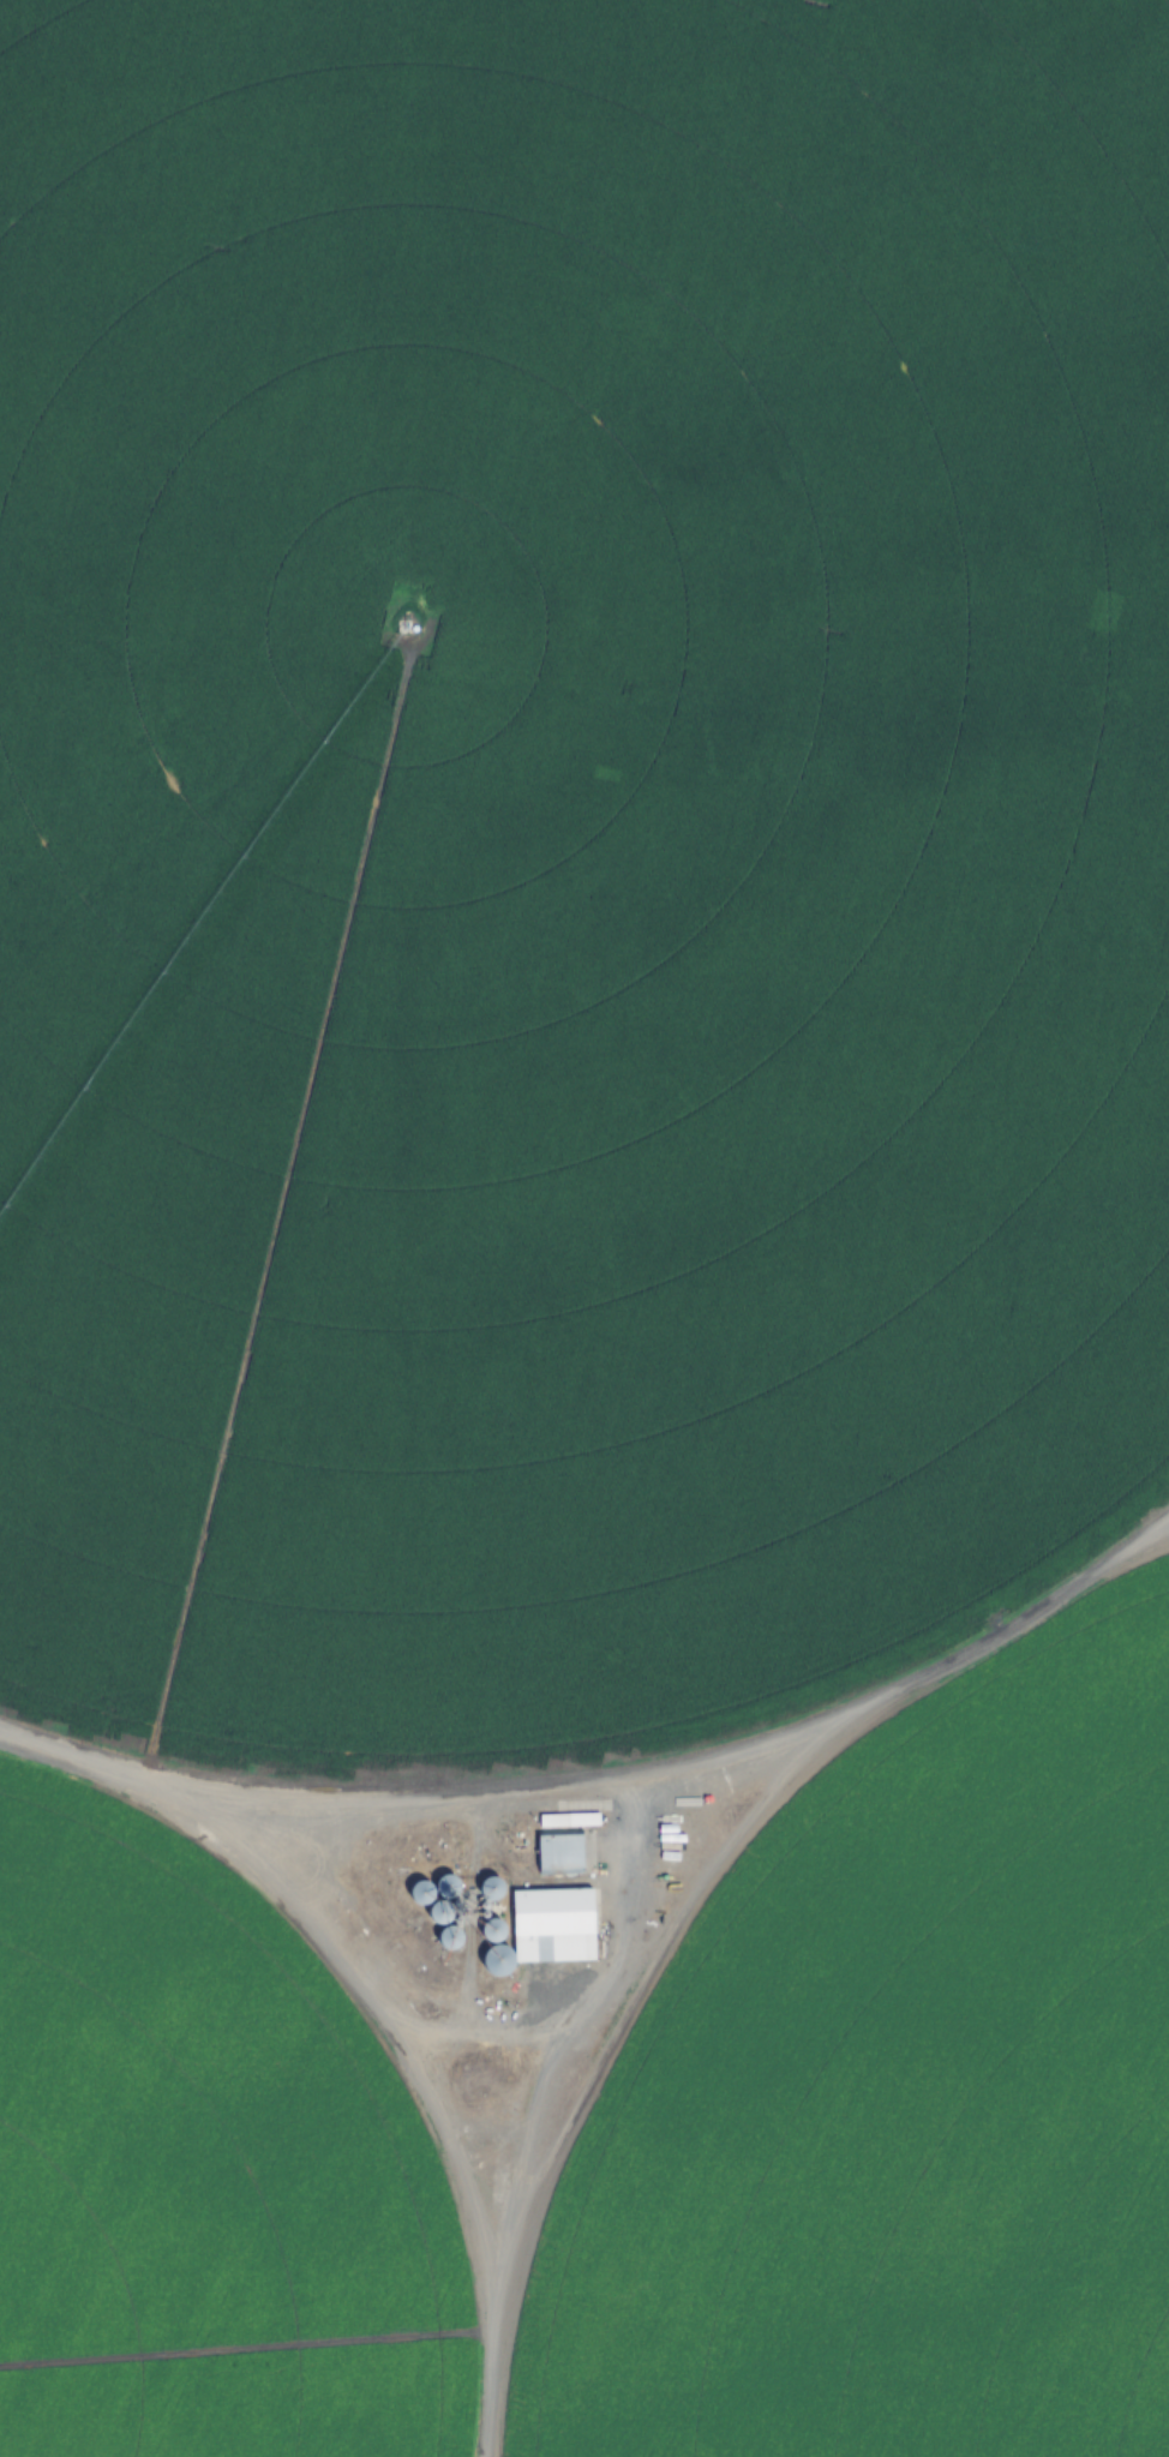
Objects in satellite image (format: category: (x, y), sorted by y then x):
crop: (572, 857)
road: (179, 1787)
building: (559, 1842)
building: (551, 1924)

